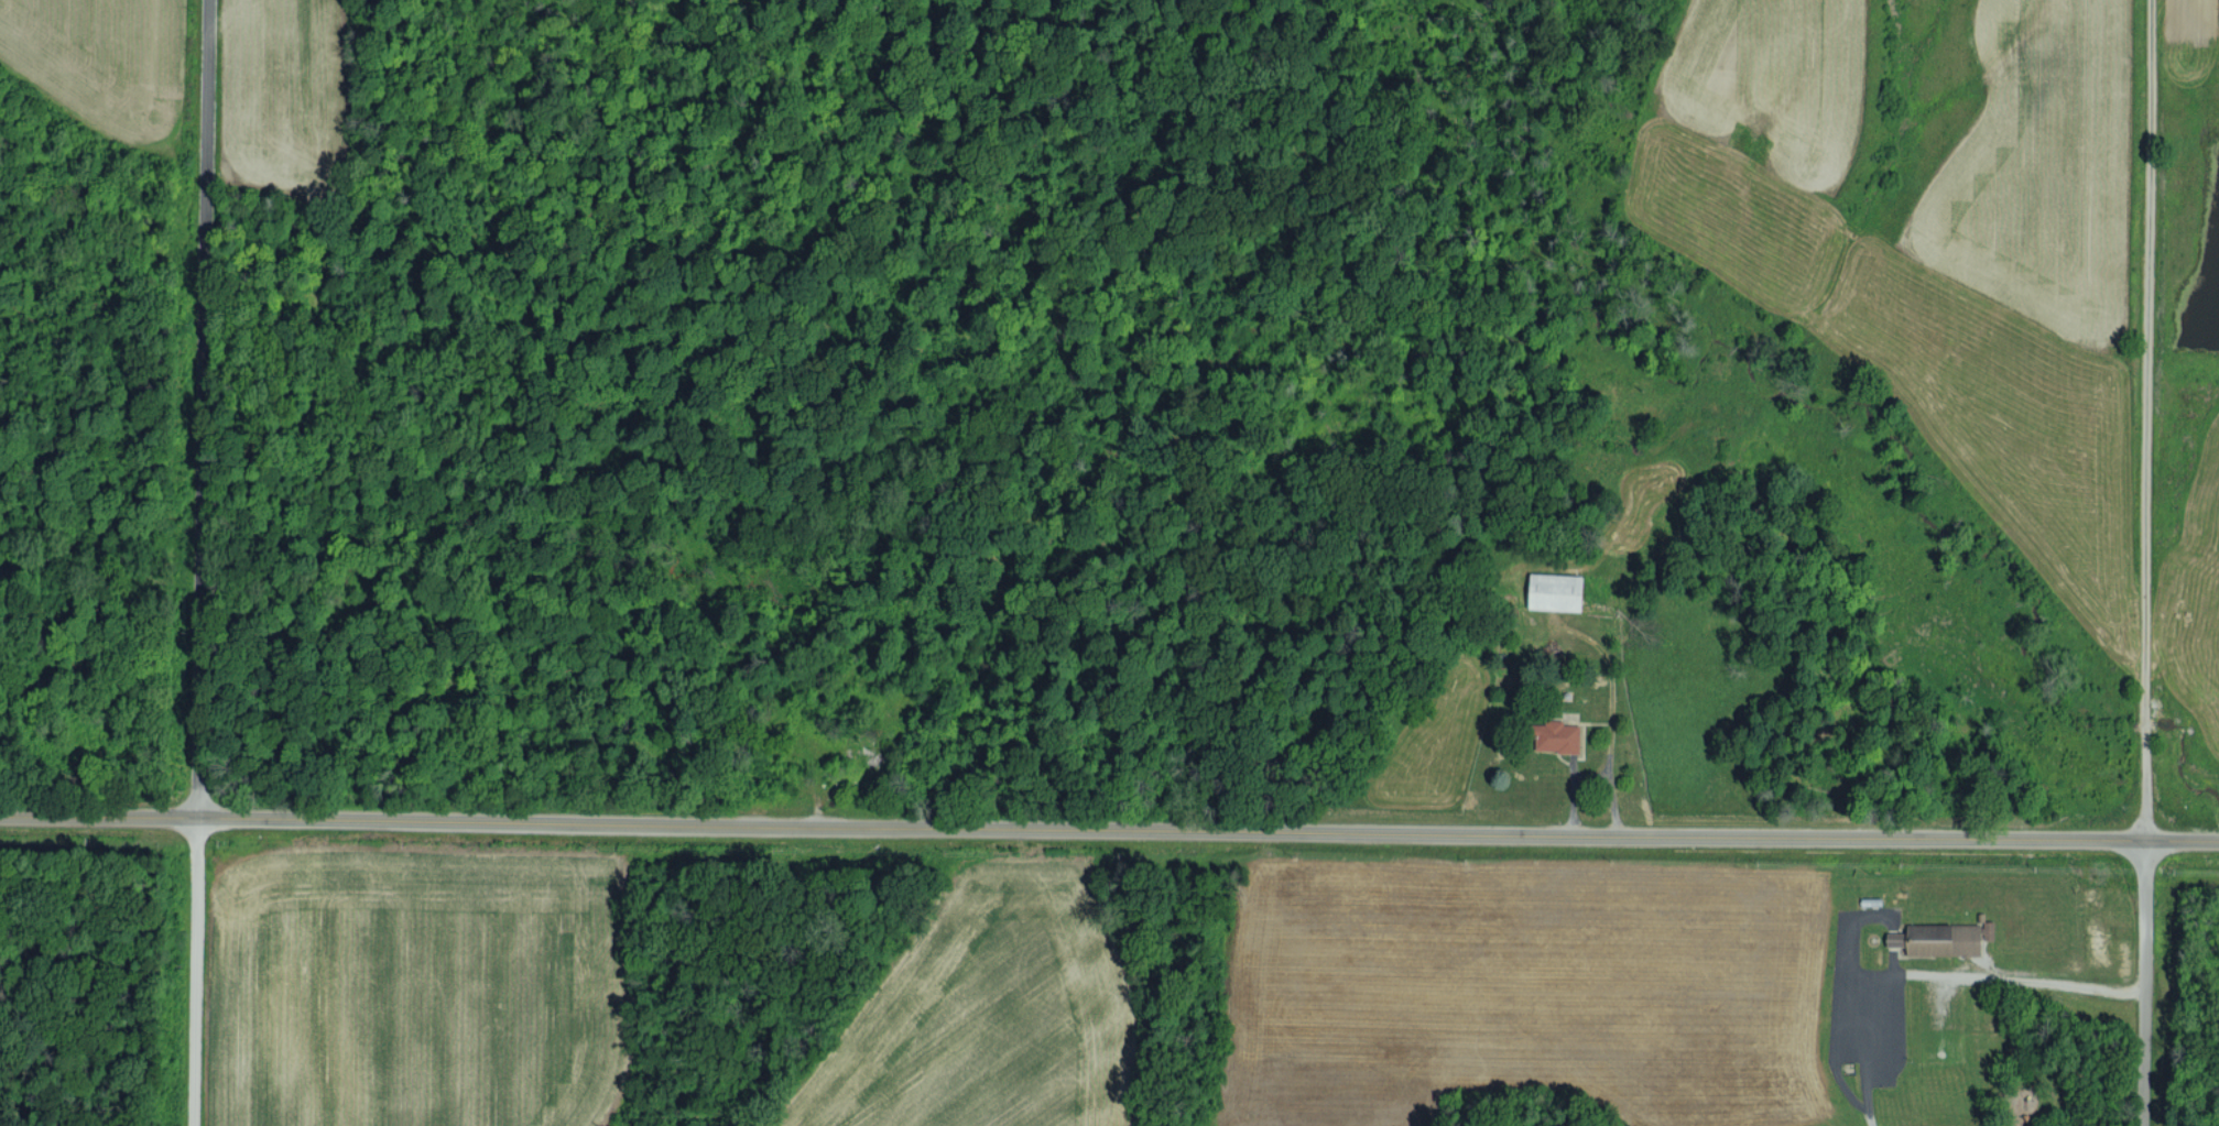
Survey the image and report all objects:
road: (202, 562)
building: (1560, 736)
road: (99, 823)
road: (1208, 834)
building: (1899, 938)
building: (1950, 938)
road: (2140, 984)

